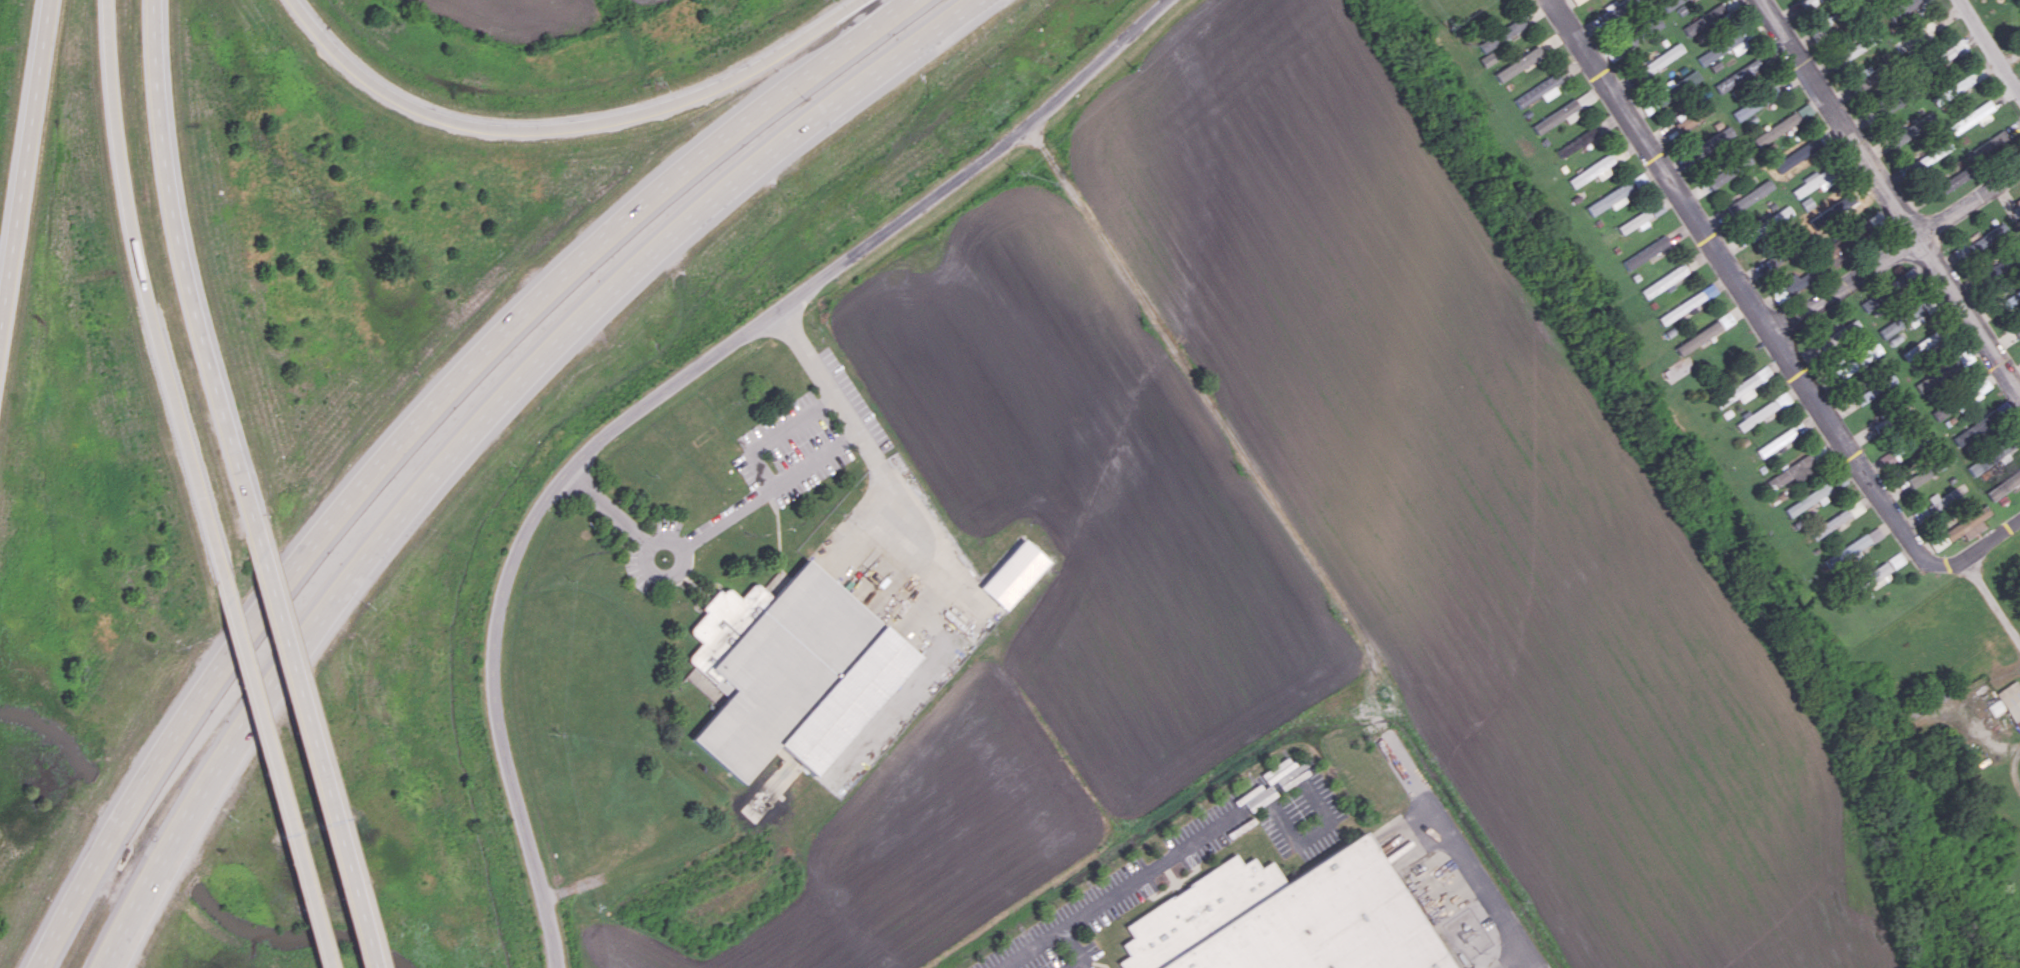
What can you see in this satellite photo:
building: (1669, 3)
building: (1904, 7)
crop: (523, 16)
building: (1709, 17)
building: (1501, 33)
building: (1736, 43)
building: (1959, 46)
road: (1988, 47)
building: (1709, 55)
building: (1945, 55)
building: (1661, 59)
building: (1977, 74)
building: (1739, 75)
building: (1865, 75)
building: (1677, 87)
building: (1954, 88)
building: (1539, 90)
building: (1584, 98)
building: (1755, 103)
building: (1804, 110)
building: (1555, 116)
building: (1971, 117)
road: (574, 124)
building: (1776, 129)
building: (1722, 135)
building: (1574, 143)
building: (1990, 143)
road: (27, 170)
building: (1591, 170)
building: (1728, 170)
building: (1813, 182)
building: (1950, 182)
building: (1750, 196)
road: (1892, 196)
building: (1610, 199)
building: (1806, 203)
building: (2019, 206)
building: (1656, 208)
building: (1781, 215)
building: (1634, 221)
building: (1988, 236)
building: (1645, 252)
road: (1898, 255)
building: (1837, 259)
building: (2002, 264)
road: (182, 271)
road: (140, 273)
building: (1790, 286)
building: (1681, 307)
building: (1913, 315)
road: (1767, 324)
building: (1888, 329)
building: (2017, 330)
building: (1702, 335)
building: (1829, 341)
building: (1922, 345)
building: (1857, 359)
building: (1740, 389)
road: (658, 394)
building: (1782, 399)
building: (1961, 399)
building: (1756, 414)
road: (481, 422)
road: (408, 429)
building: (1972, 430)
building: (1775, 442)
road: (861, 444)
building: (2001, 449)
road: (813, 458)
building: (1979, 465)
building: (1791, 472)
building: (2008, 483)
building: (1943, 498)
road: (722, 518)
building: (1836, 520)
building: (1968, 525)
building: (1858, 544)
building: (1013, 574)
building: (1873, 575)
road: (1992, 599)
building: (798, 677)
building: (2011, 701)
road: (313, 751)
road: (264, 755)
road: (2016, 772)
road: (1477, 871)
road: (1137, 879)
building: (1286, 918)
road: (124, 943)
road: (1074, 949)

